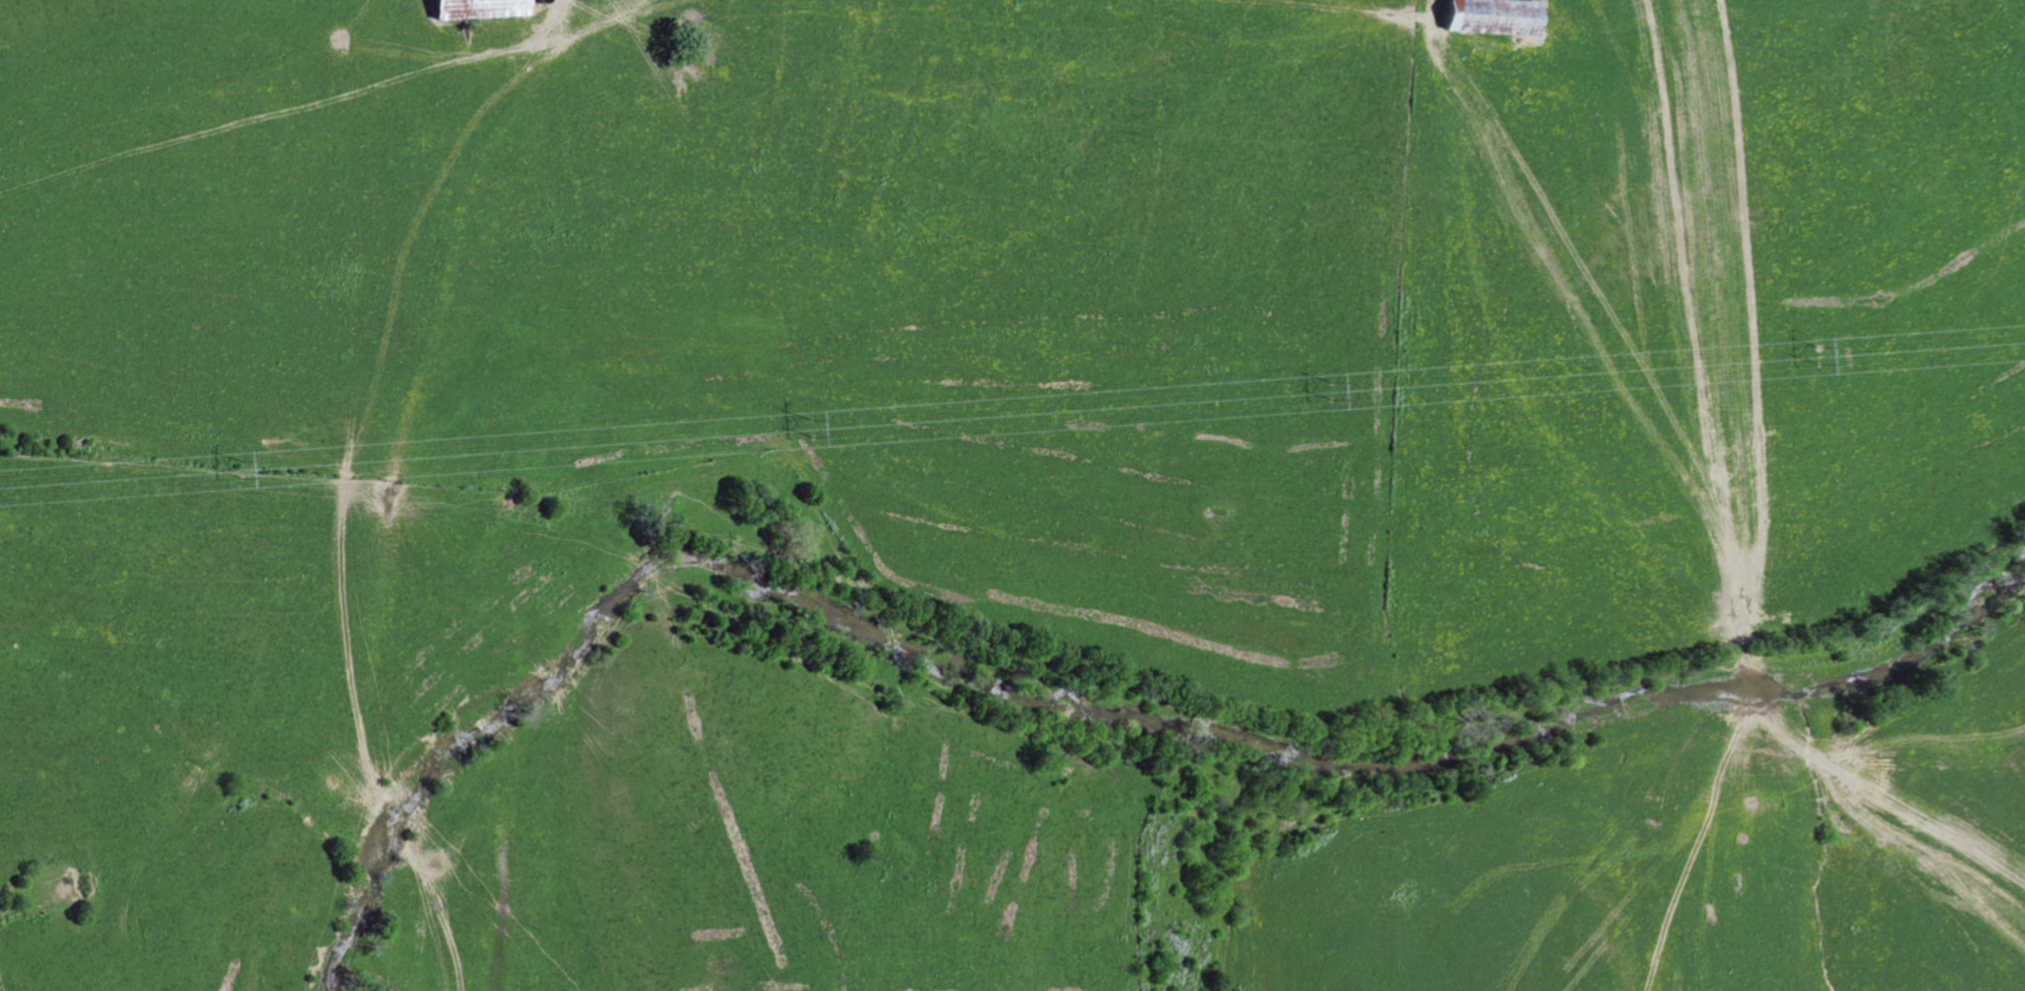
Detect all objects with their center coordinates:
road: (524, 7)
building: (477, 8)
road: (66, 14)
power tower: (1821, 356)
power tower: (1336, 390)
power tower: (814, 431)
power tower: (242, 470)
road: (1756, 471)

